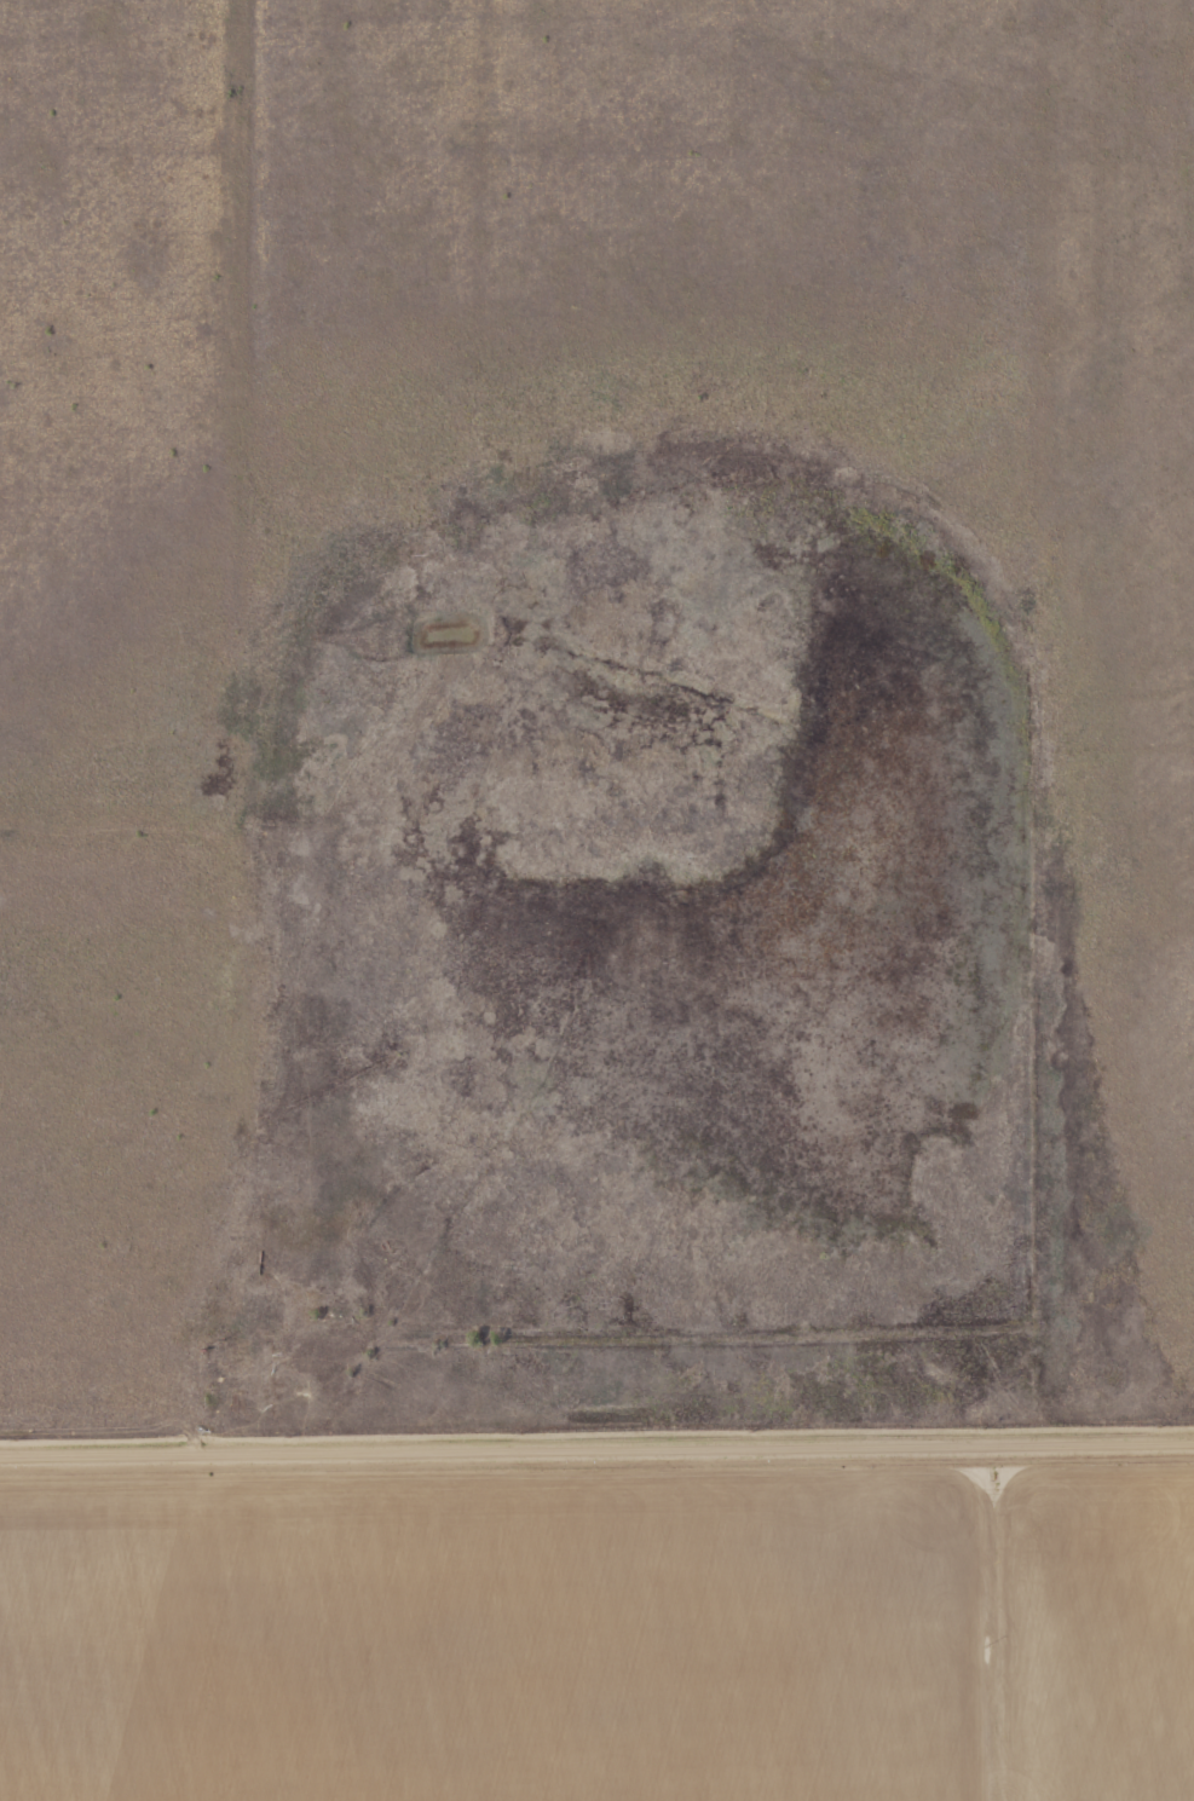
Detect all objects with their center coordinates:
road: (596, 1454)

